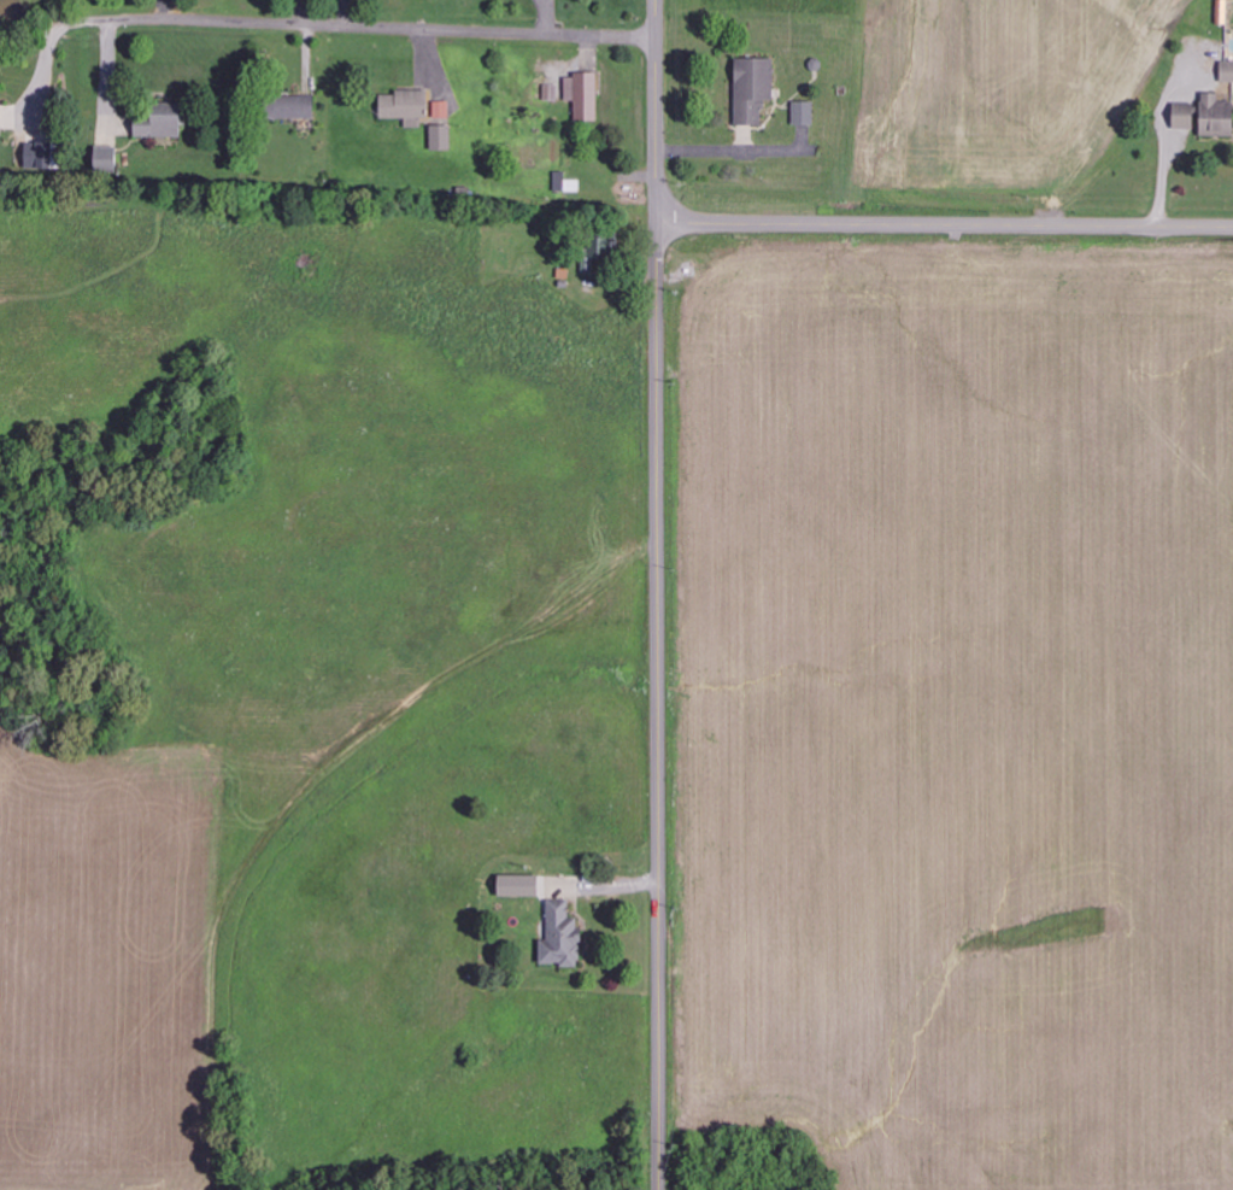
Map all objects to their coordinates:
road: (363, 25)
building: (1227, 71)
building: (755, 90)
building: (583, 95)
building: (295, 107)
building: (407, 107)
building: (442, 111)
road: (657, 111)
building: (805, 113)
building: (1205, 116)
building: (163, 124)
building: (442, 137)
building: (40, 156)
building: (107, 159)
building: (565, 183)
road: (945, 225)
road: (657, 707)
building: (521, 885)
building: (563, 937)

